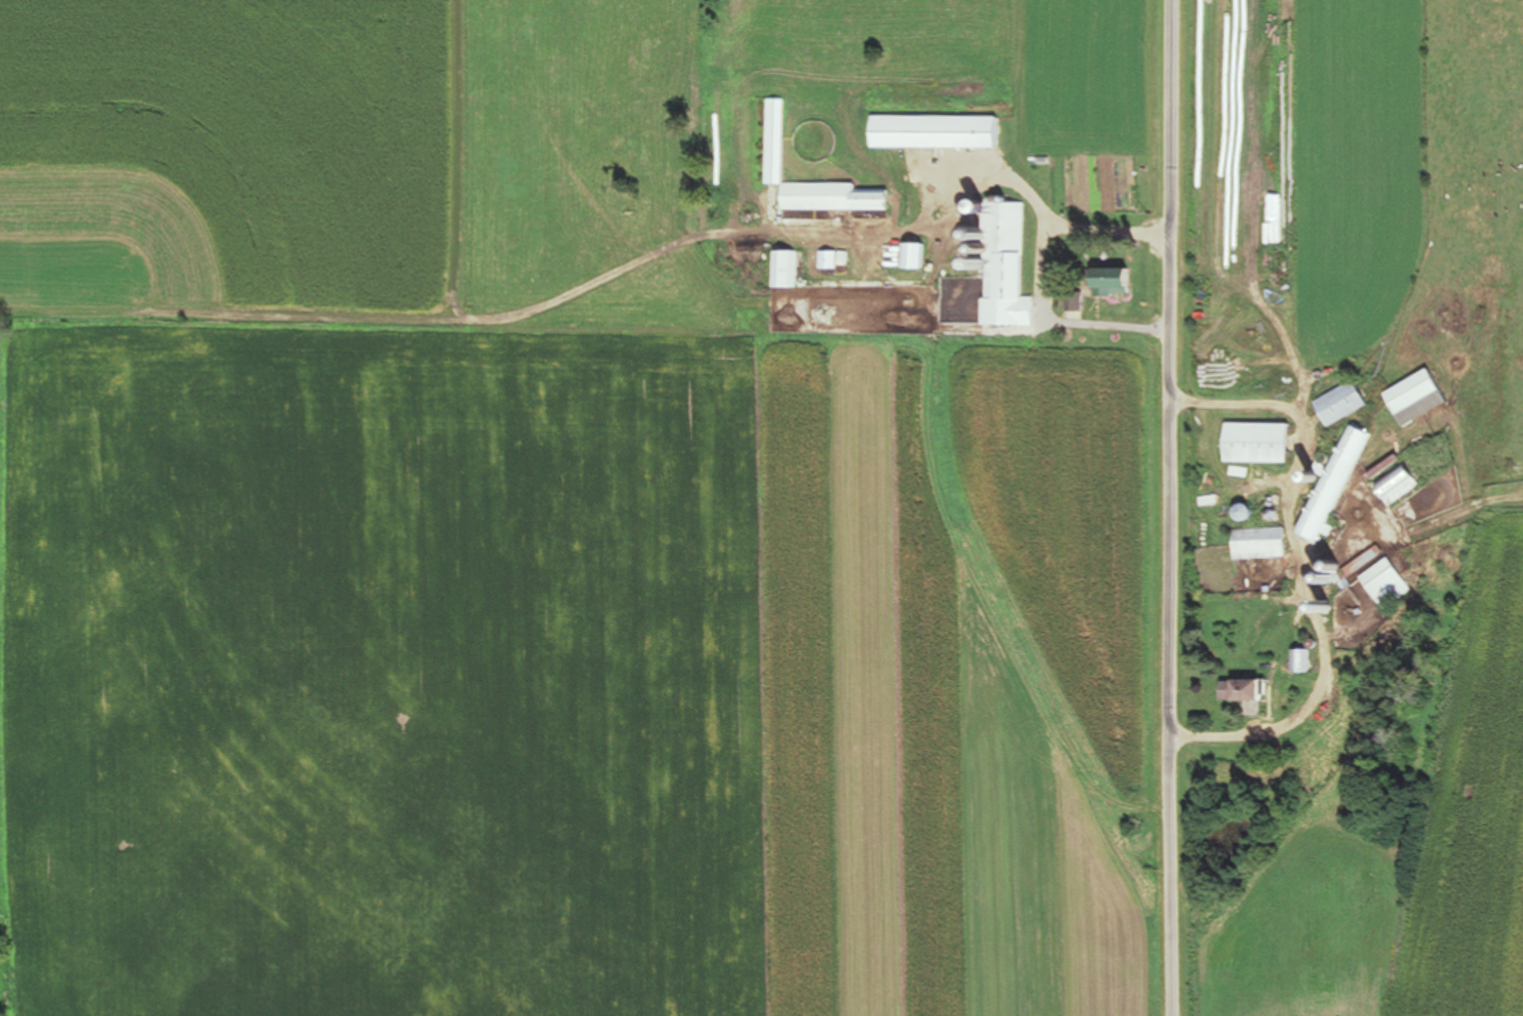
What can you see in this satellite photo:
building: (939, 131)
building: (778, 140)
building: (917, 256)
building: (1006, 265)
building: (785, 268)
building: (1123, 278)
building: (1419, 397)
building: (1345, 402)
building: (1262, 442)
building: (1333, 483)
building: (1399, 484)
road: (1182, 508)
building: (1262, 543)
building: (1368, 558)
building: (1388, 583)
building: (1302, 660)
building: (1247, 689)

